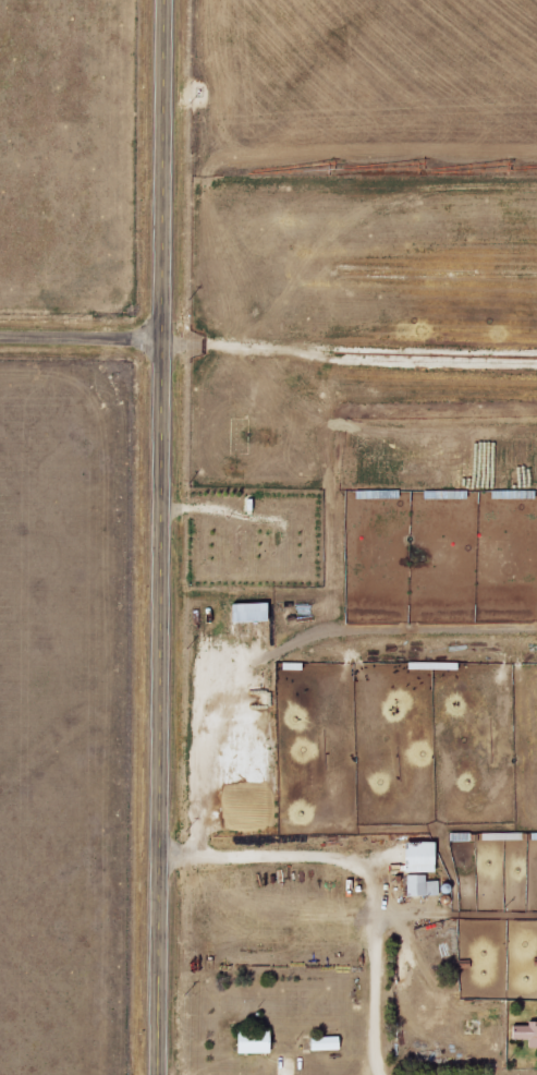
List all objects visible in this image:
road: (82, 336)
road: (162, 536)
building: (248, 611)
building: (416, 856)
building: (419, 885)
building: (524, 1034)
building: (251, 1041)

